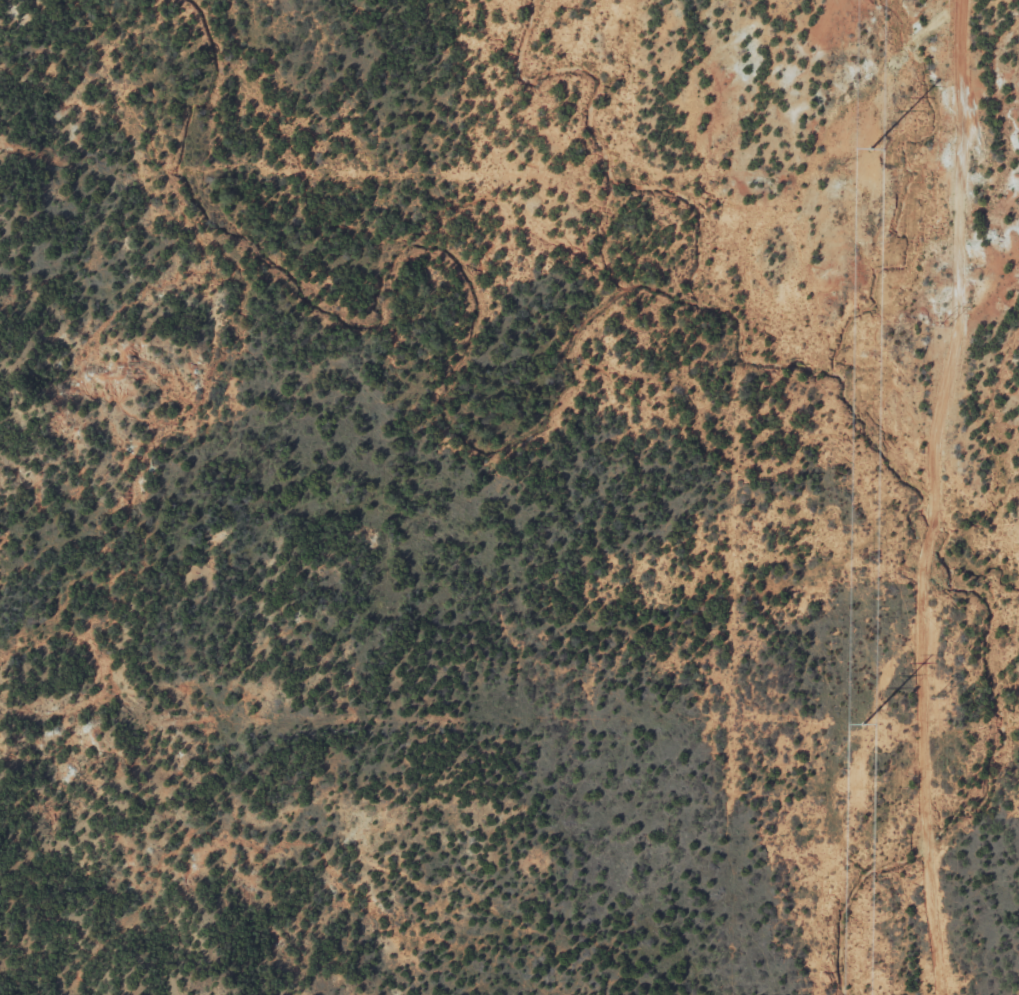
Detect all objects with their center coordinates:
power tower: (871, 149)
power tower: (942, 327)
power tower: (936, 693)
power tower: (863, 724)

